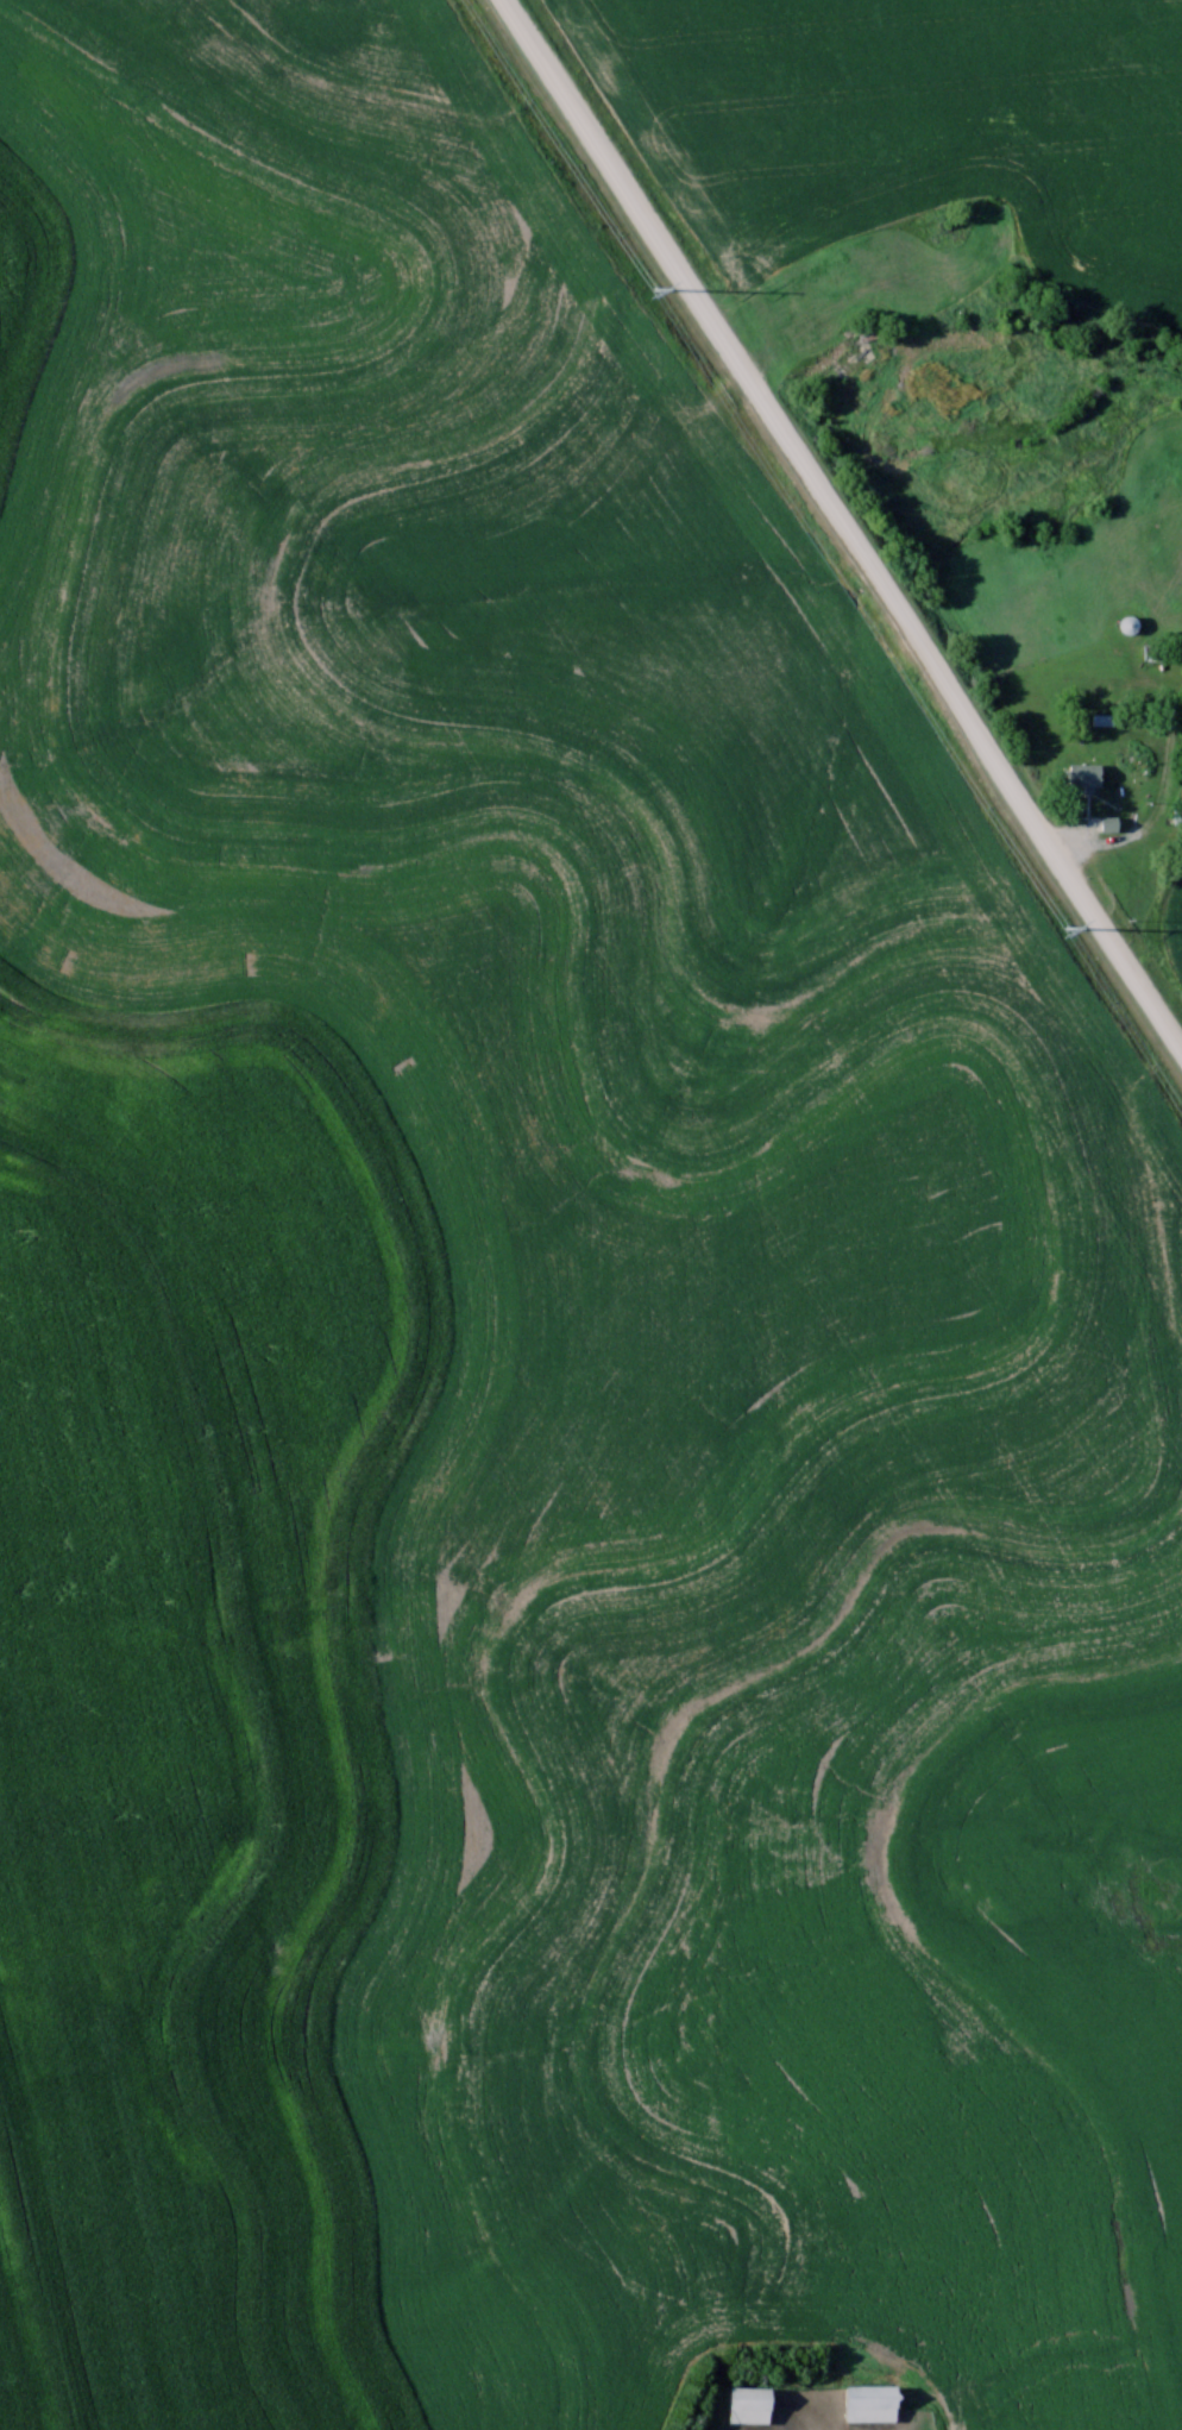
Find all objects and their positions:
power tower: (650, 288)
road: (842, 526)
building: (1124, 622)
building: (1077, 773)
building: (1177, 803)
building: (1101, 822)
road: (1128, 844)
power tower: (1065, 927)
building: (861, 2400)
building: (740, 2403)

